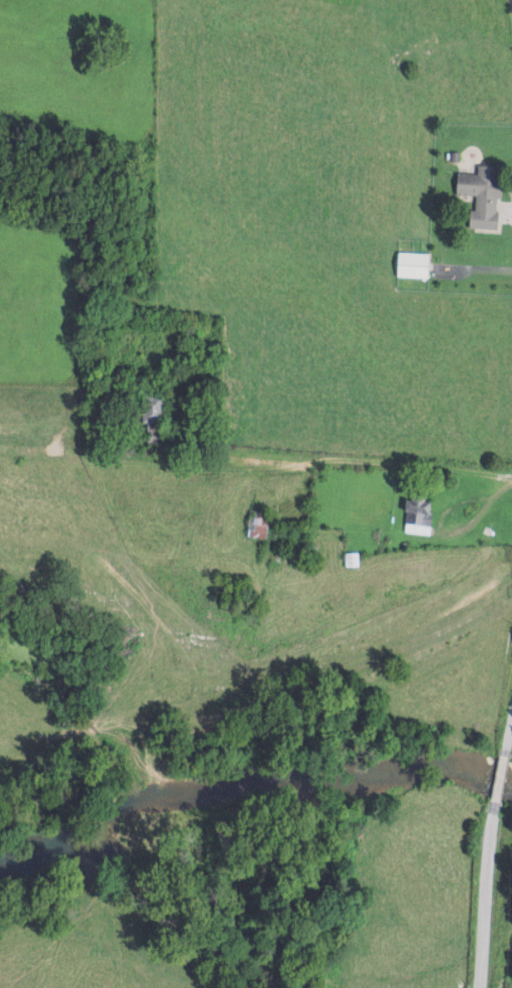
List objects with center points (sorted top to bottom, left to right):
building: (480, 195)
building: (411, 264)
road: (478, 265)
building: (151, 408)
road: (344, 460)
building: (416, 516)
road: (489, 857)

